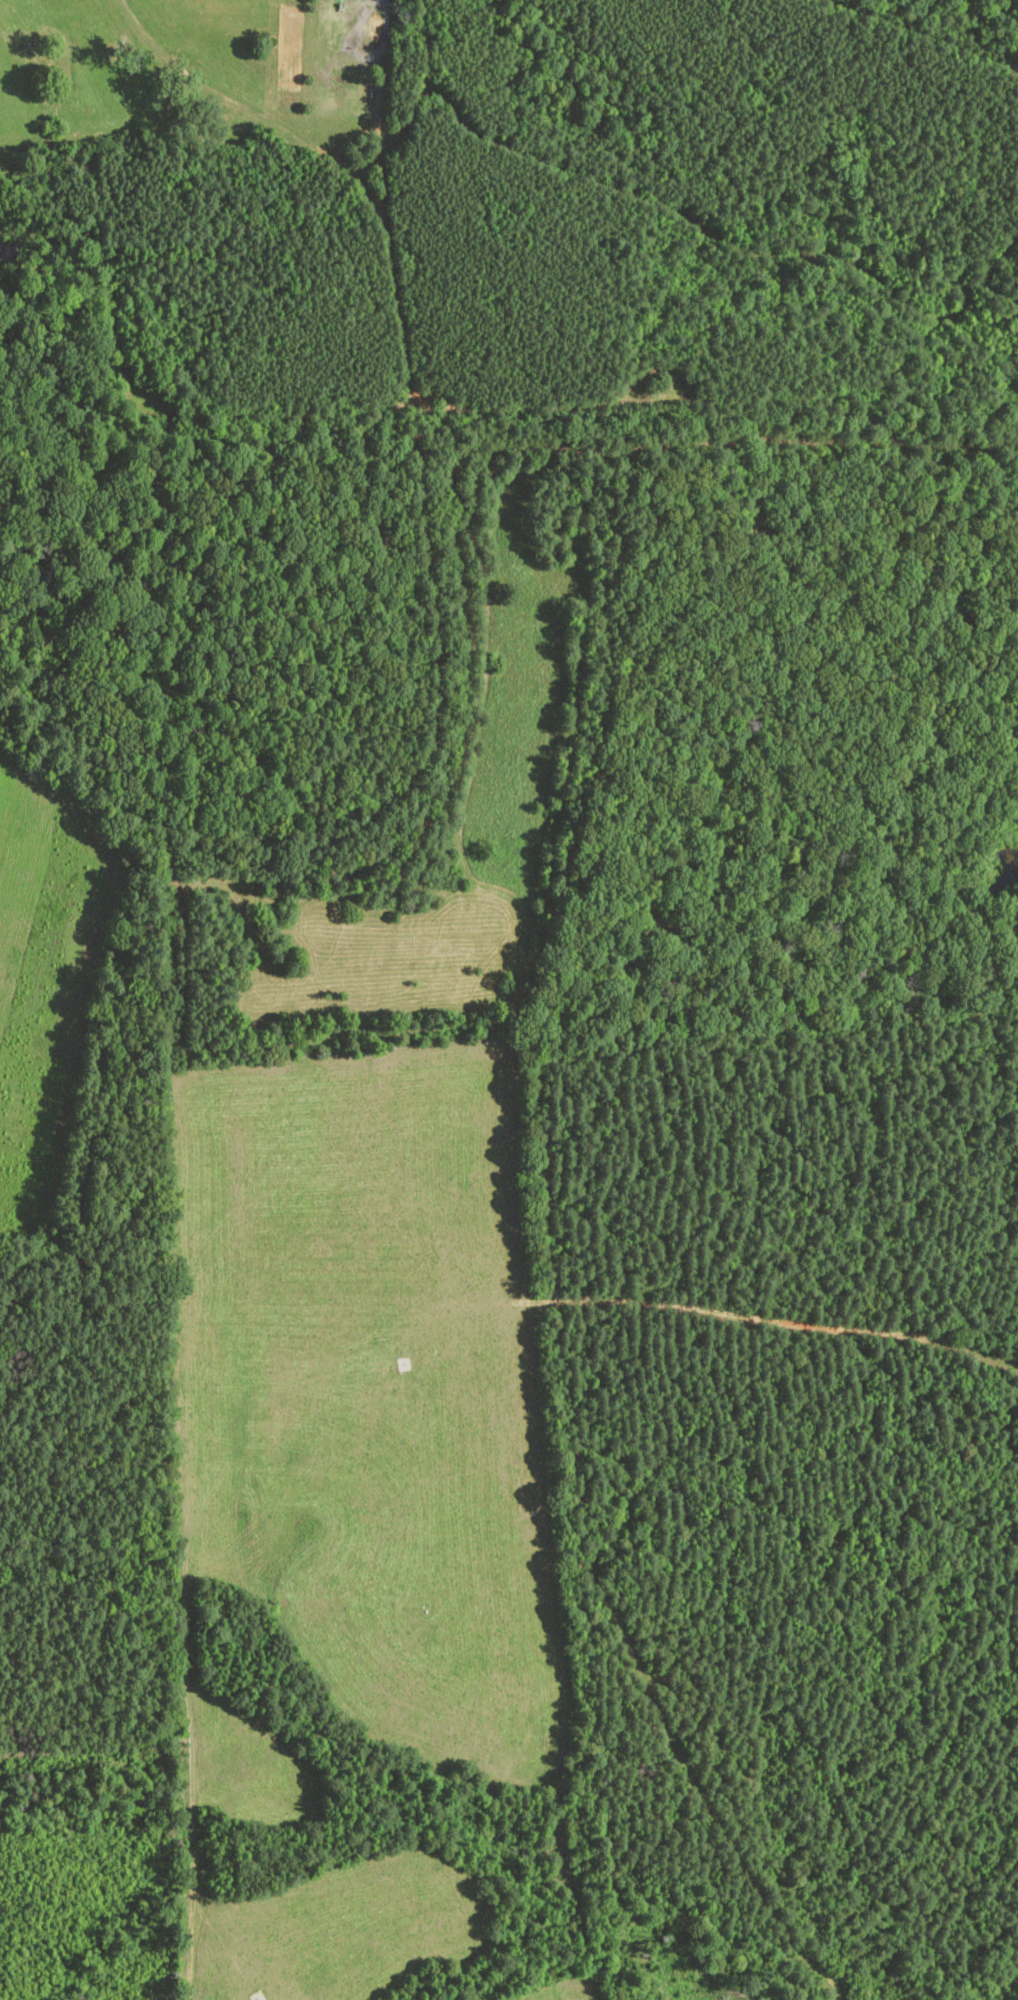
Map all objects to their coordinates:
crop: (345, 1931)
crop: (550, 1988)

